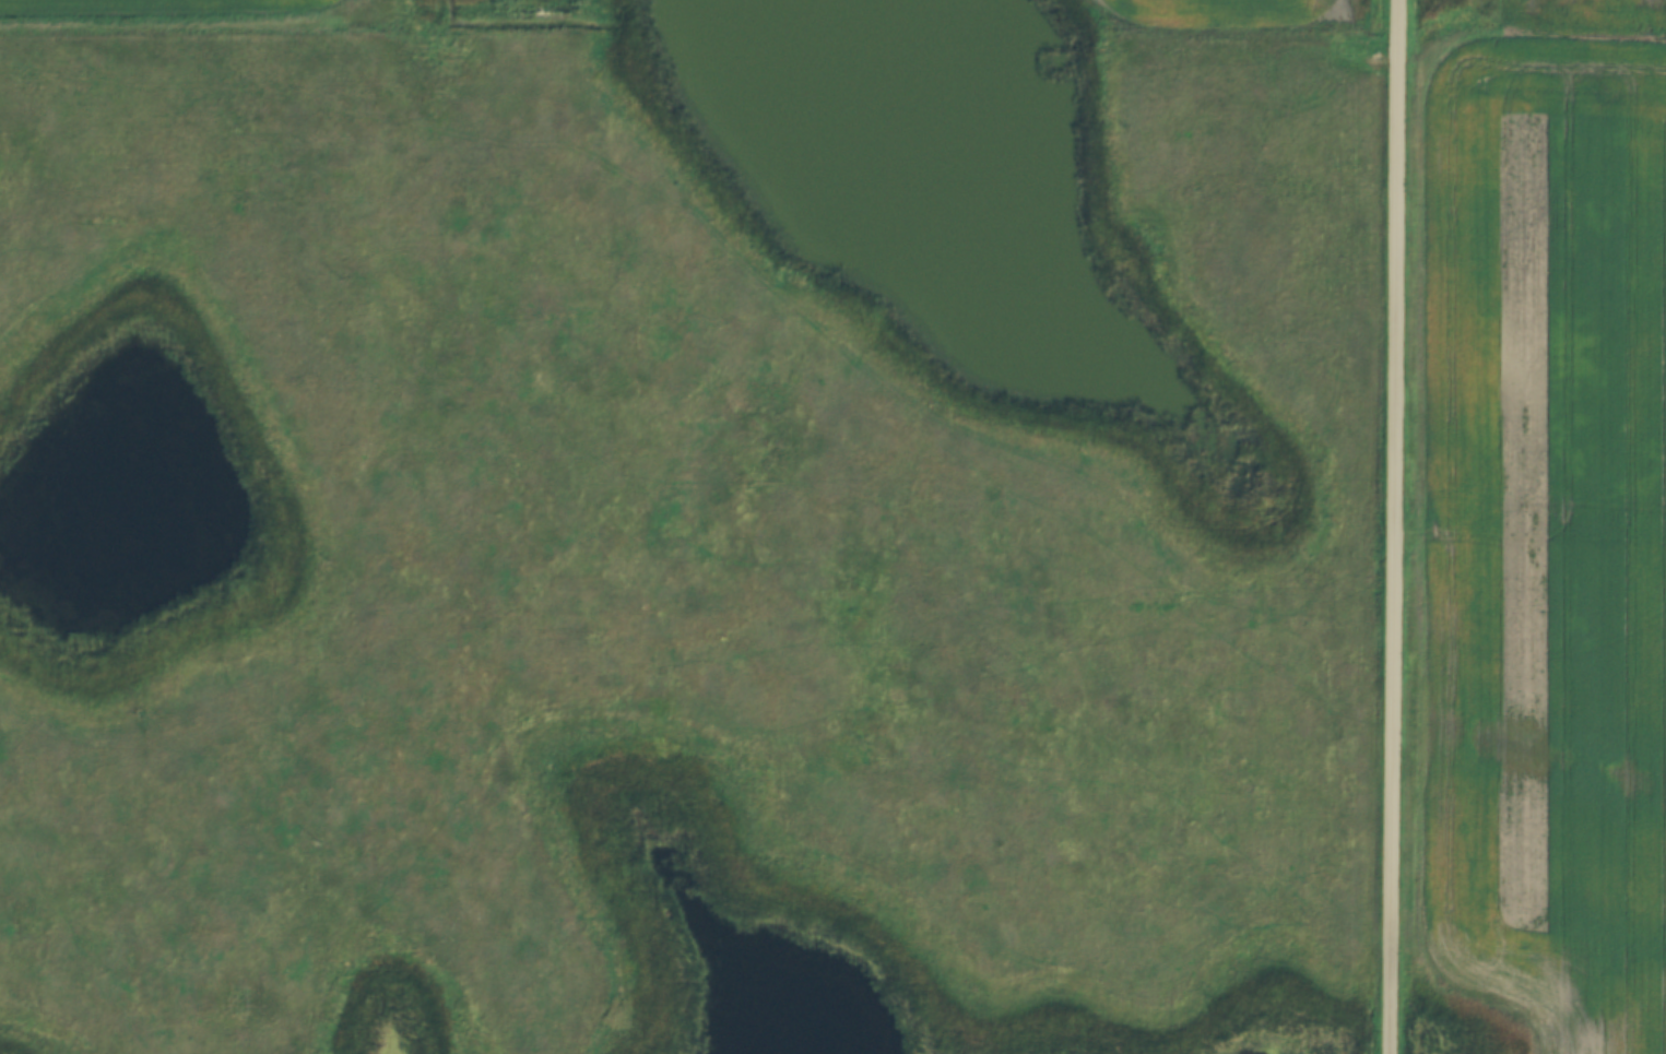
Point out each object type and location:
road: (1404, 526)
road: (1535, 554)

